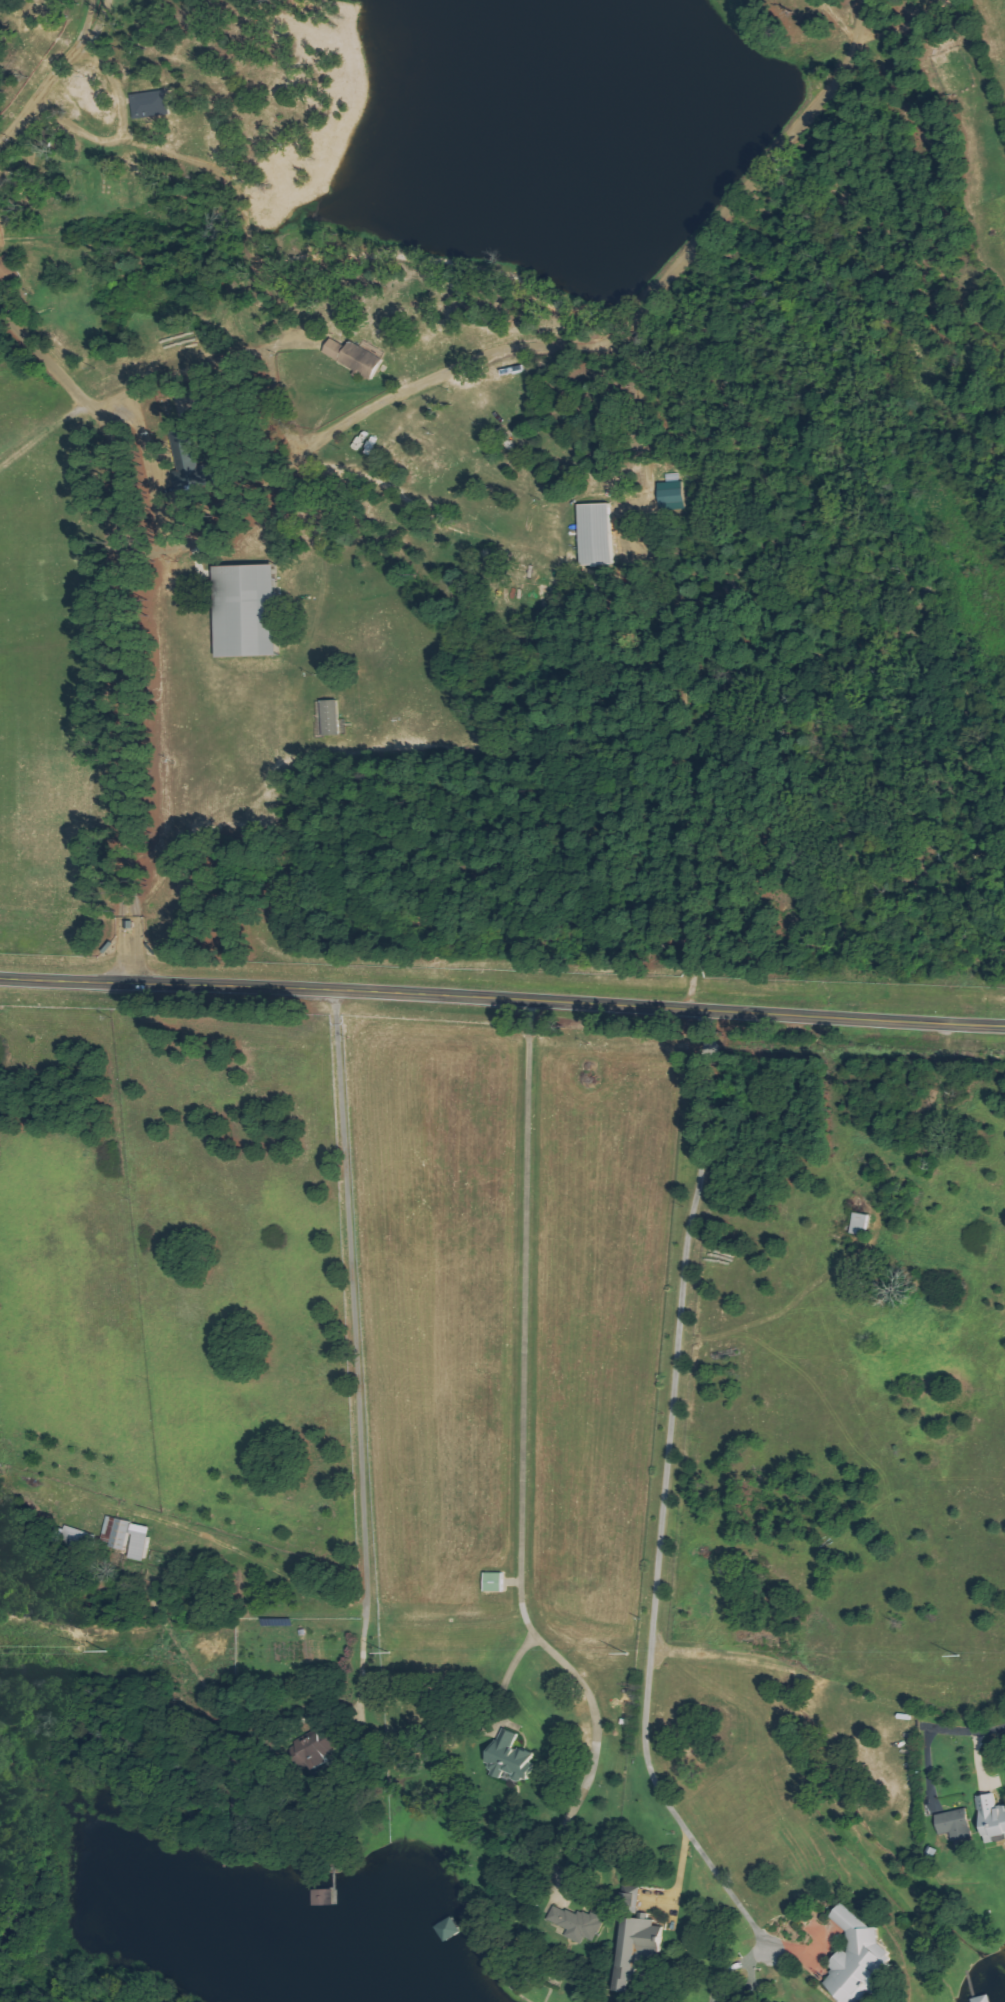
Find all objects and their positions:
road: (53, 77)
building: (152, 104)
building: (6, 270)
road: (550, 344)
building: (356, 358)
building: (194, 462)
building: (670, 494)
building: (597, 533)
building: (249, 609)
road: (125, 624)
building: (331, 719)
road: (502, 991)
building: (118, 1532)
building: (141, 1542)
building: (495, 1582)
power tower: (105, 1650)
power tower: (388, 1652)
power tower: (624, 1653)
power tower: (956, 1655)
road: (973, 1716)
building: (316, 1751)
building: (512, 1757)
building: (993, 1818)
building: (956, 1824)
building: (578, 1923)
building: (637, 1949)
building: (857, 1958)
building: (983, 1999)

